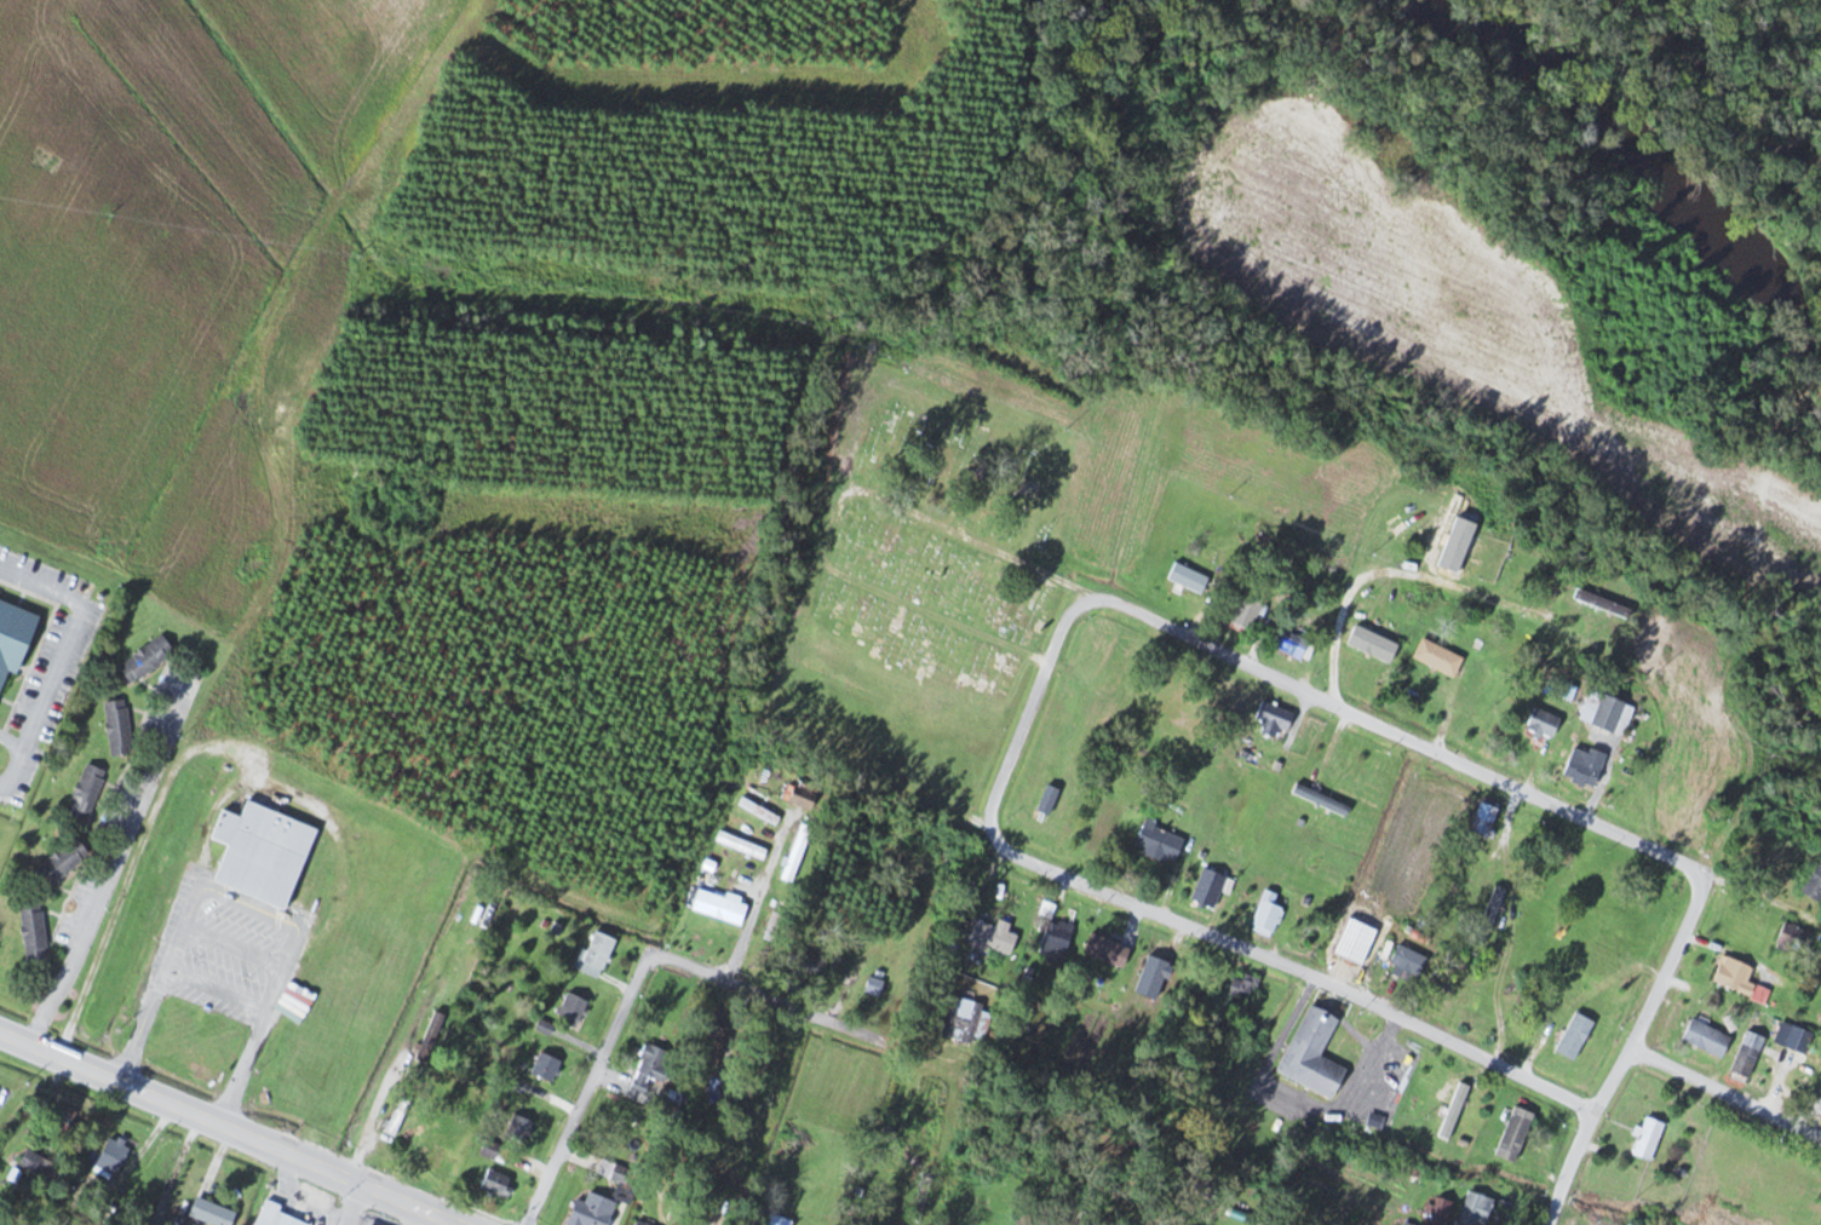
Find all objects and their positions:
river: (1563, 149)
building: (1460, 550)
building: (1189, 579)
park: (932, 587)
road: (1467, 592)
building: (1604, 603)
building: (1246, 614)
building: (15, 633)
road: (1339, 637)
building: (1293, 644)
building: (1375, 644)
road: (63, 657)
building: (1438, 657)
building: (148, 660)
building: (1490, 704)
building: (1608, 713)
building: (1275, 718)
building: (1544, 724)
building: (119, 727)
road: (1400, 735)
road: (12, 741)
building: (1584, 766)
building: (86, 793)
building: (805, 798)
building: (1049, 799)
building: (1322, 799)
building: (759, 810)
building: (1487, 817)
building: (1160, 841)
building: (740, 844)
building: (798, 852)
building: (62, 863)
road: (114, 863)
building: (264, 864)
building: (1661, 882)
building: (1814, 886)
building: (1210, 887)
road: (757, 905)
building: (719, 907)
building: (312, 915)
storage tank: (312, 915)
building: (1268, 915)
road: (1172, 918)
building: (34, 931)
building: (994, 934)
building: (1793, 938)
building: (1057, 939)
building: (1357, 943)
building: (1108, 950)
building: (596, 955)
building: (812, 961)
building: (1409, 961)
building: (1153, 967)
road: (305, 971)
road: (640, 972)
building: (1740, 979)
building: (1243, 988)
building: (1459, 993)
building: (573, 1010)
building: (967, 1020)
building: (432, 1036)
building: (1575, 1036)
building: (1707, 1039)
building: (1800, 1040)
road: (396, 1042)
road: (1626, 1049)
building: (1312, 1053)
building: (1748, 1054)
building: (547, 1068)
building: (653, 1068)
road: (119, 1081)
road: (1724, 1089)
building: (1457, 1099)
building: (519, 1129)
building: (1650, 1139)
building: (465, 1151)
building: (495, 1151)
building: (113, 1157)
road: (298, 1157)
building: (39, 1166)
building: (619, 1175)
building: (499, 1184)
road: (351, 1203)
road: (412, 1203)
building: (1476, 1209)
building: (593, 1210)
building: (1438, 1210)
building: (209, 1214)
building: (276, 1217)
building: (779, 1220)
building: (643, 1223)

